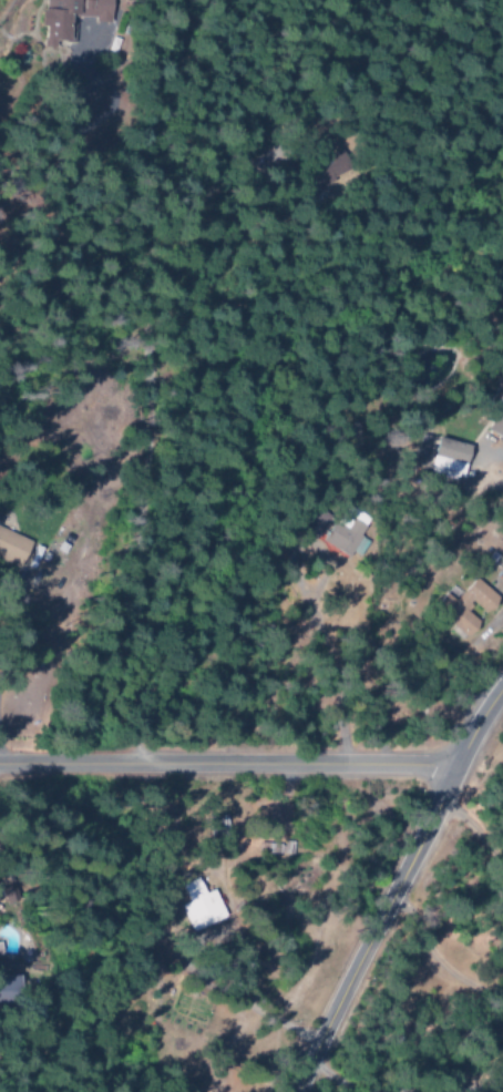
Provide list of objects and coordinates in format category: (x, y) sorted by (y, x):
building: (55, 20)
building: (496, 425)
building: (443, 457)
building: (314, 522)
building: (345, 532)
building: (10, 548)
building: (460, 606)
road: (3, 662)
road: (226, 766)
building: (212, 823)
road: (393, 886)
building: (195, 907)
building: (3, 983)

